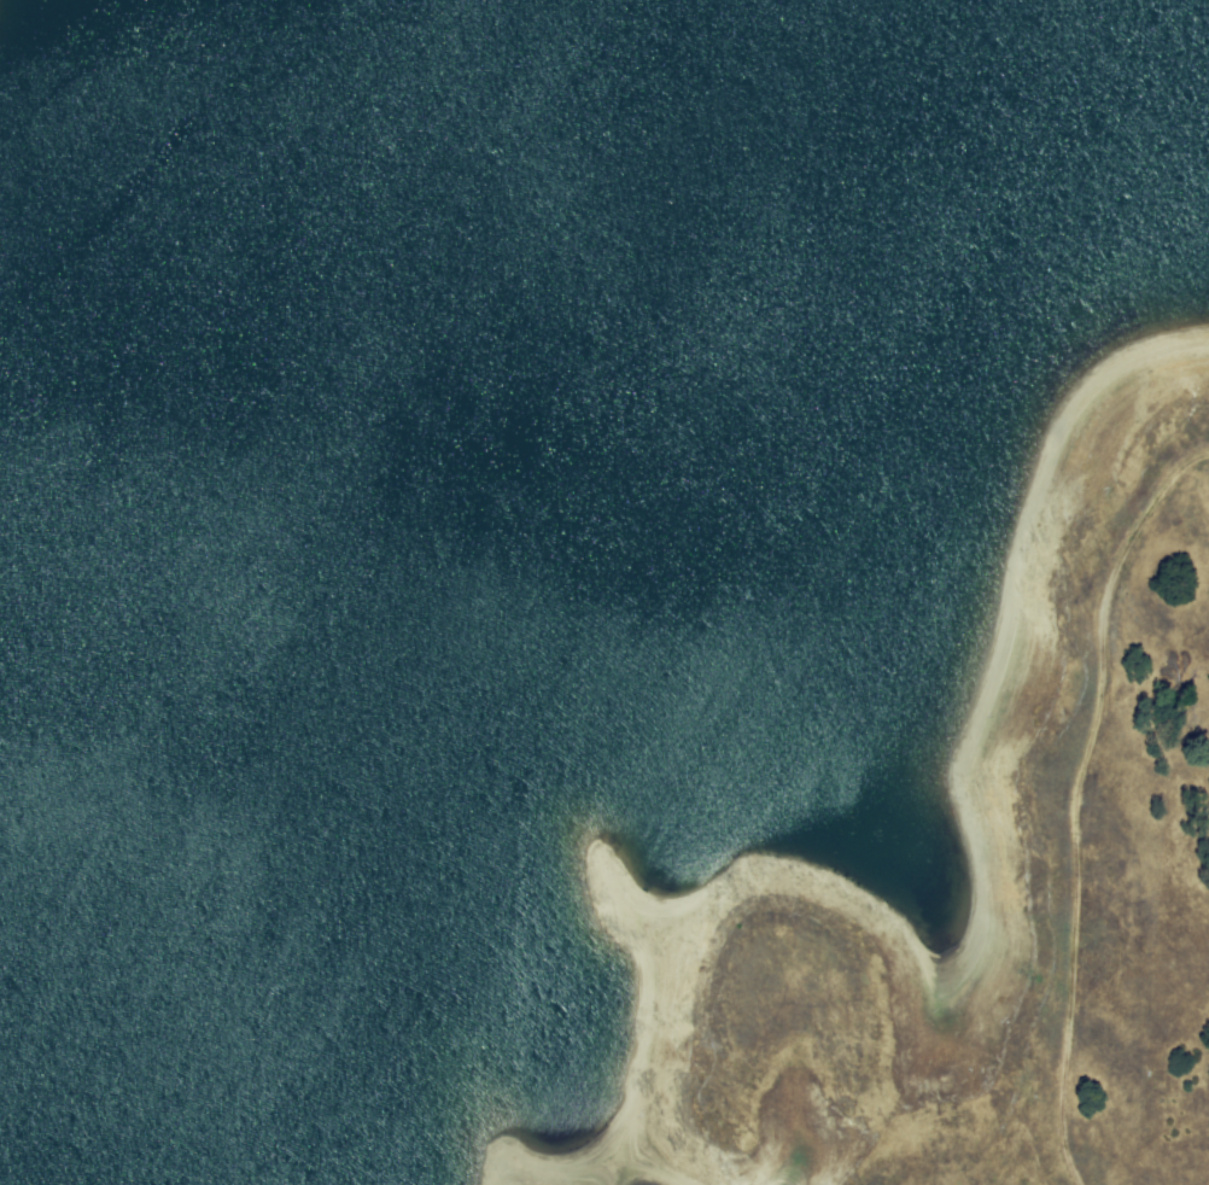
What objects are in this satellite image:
river: (125, 105)

